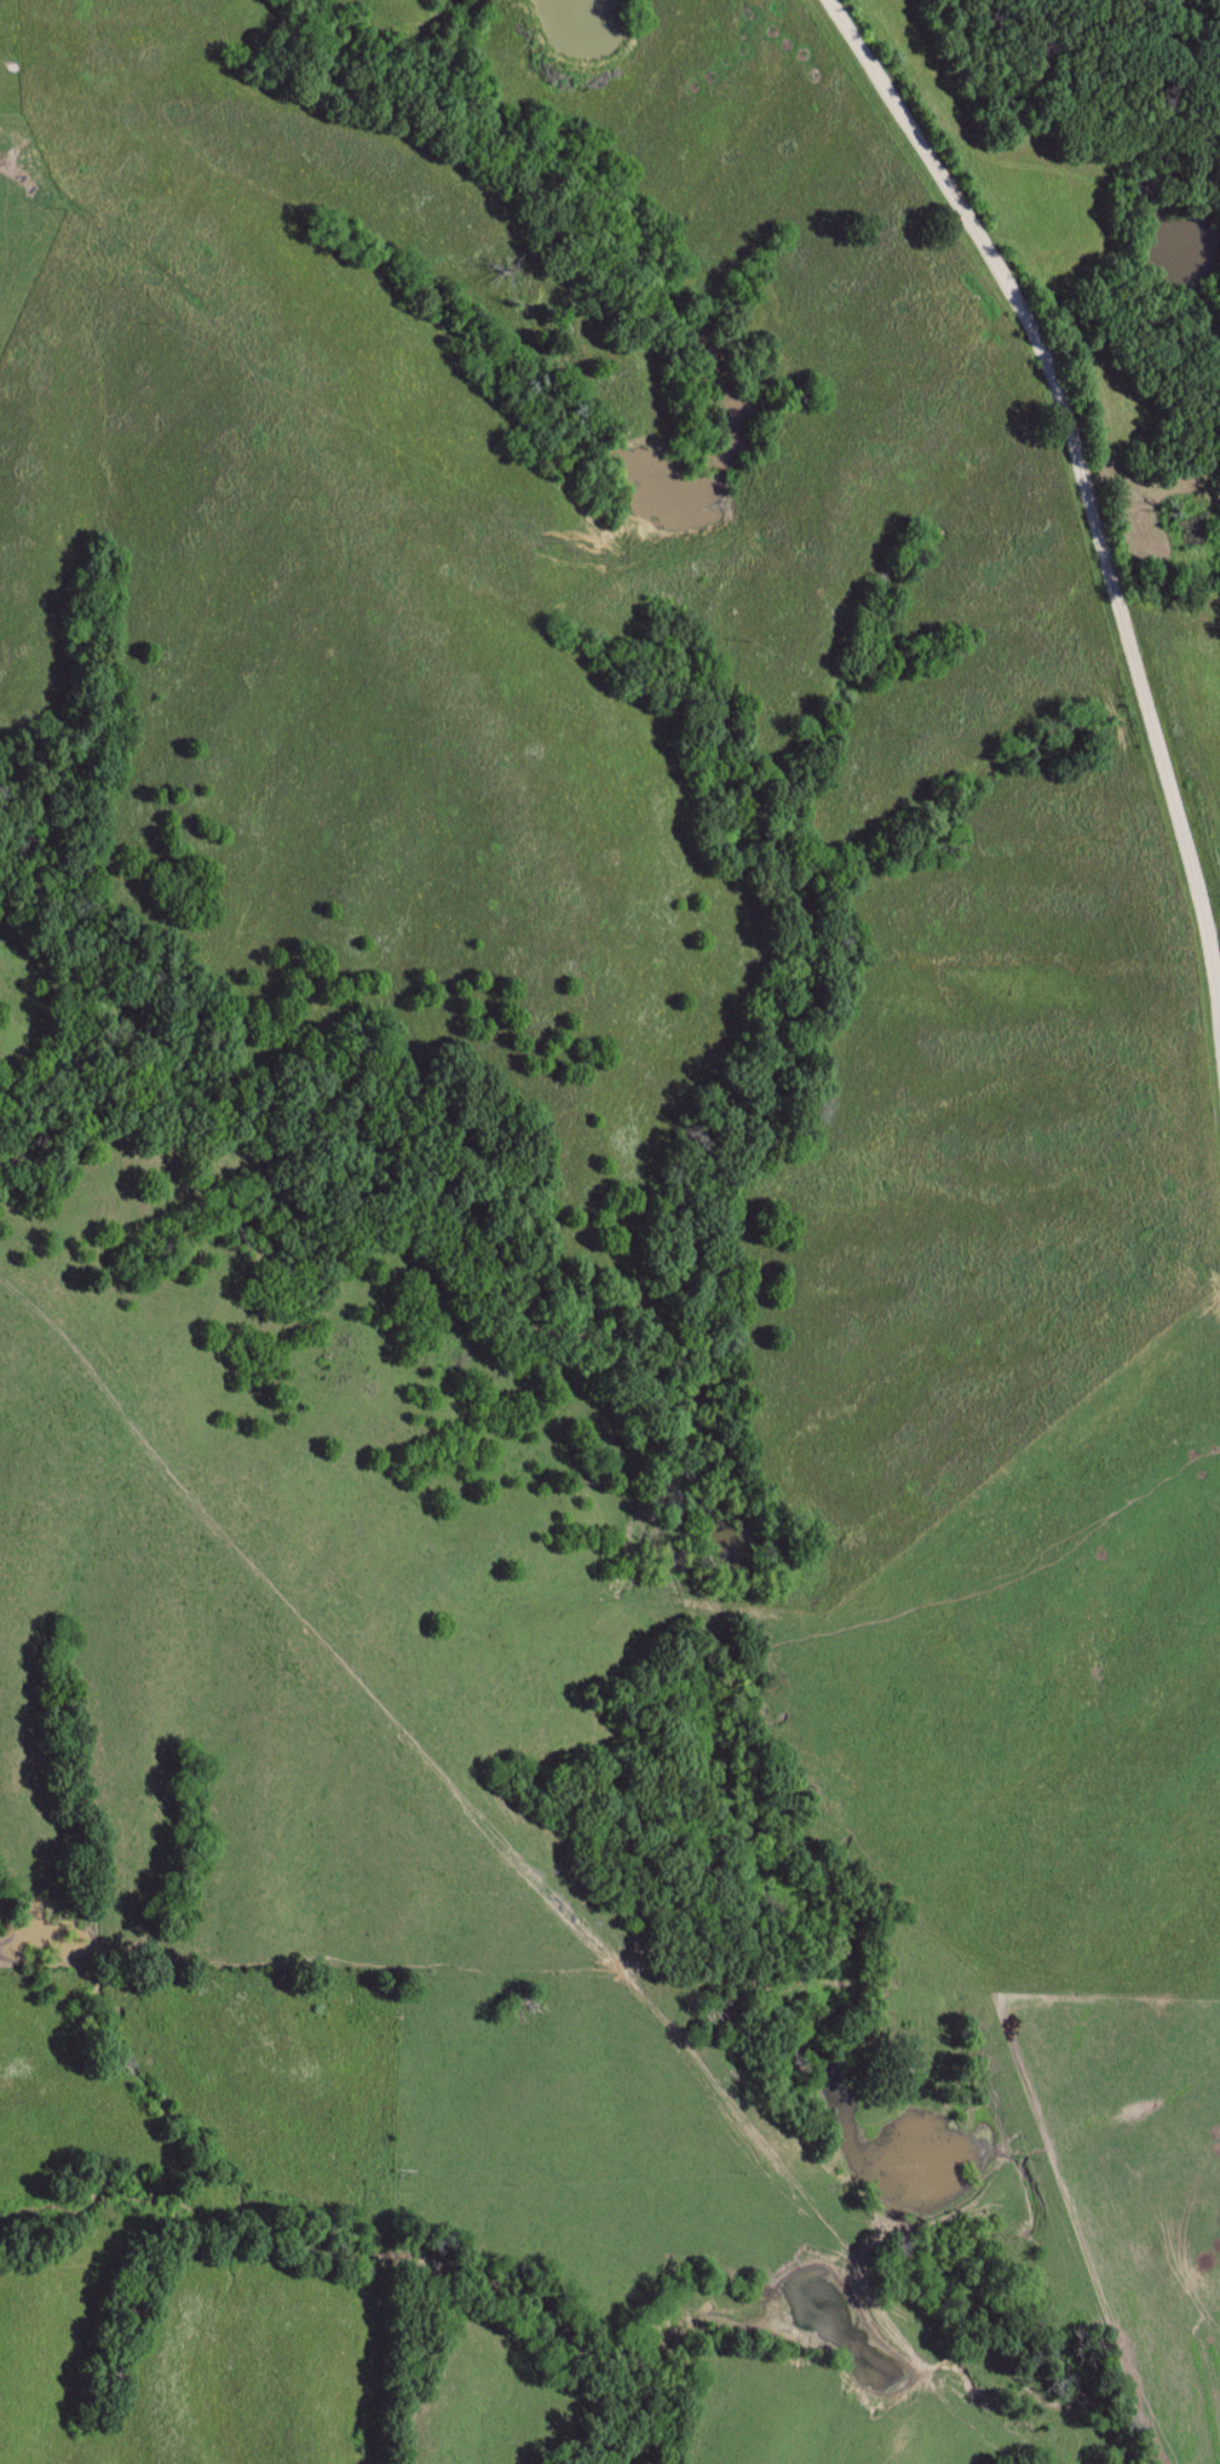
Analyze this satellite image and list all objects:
road: (1084, 479)

